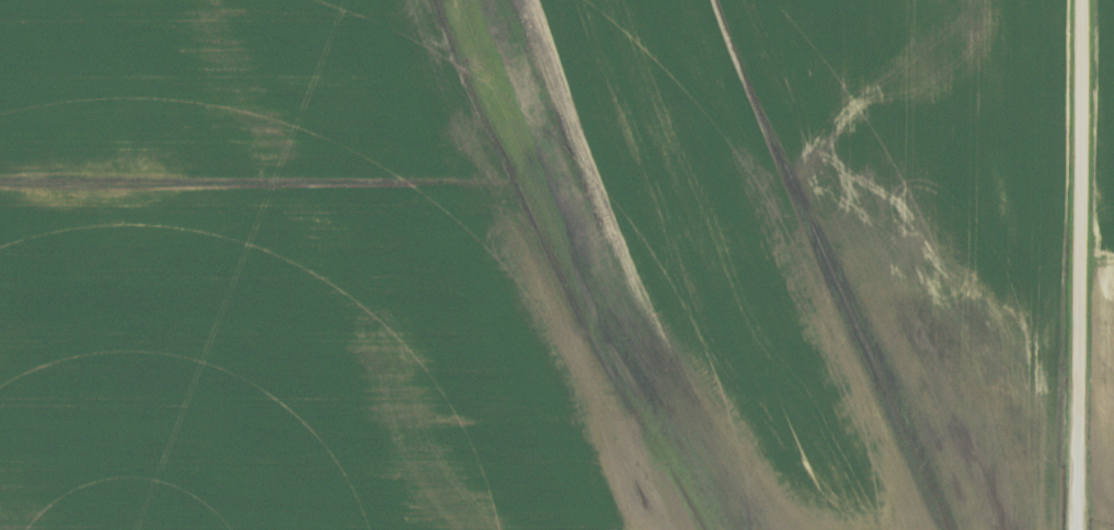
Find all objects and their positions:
road: (1084, 265)

